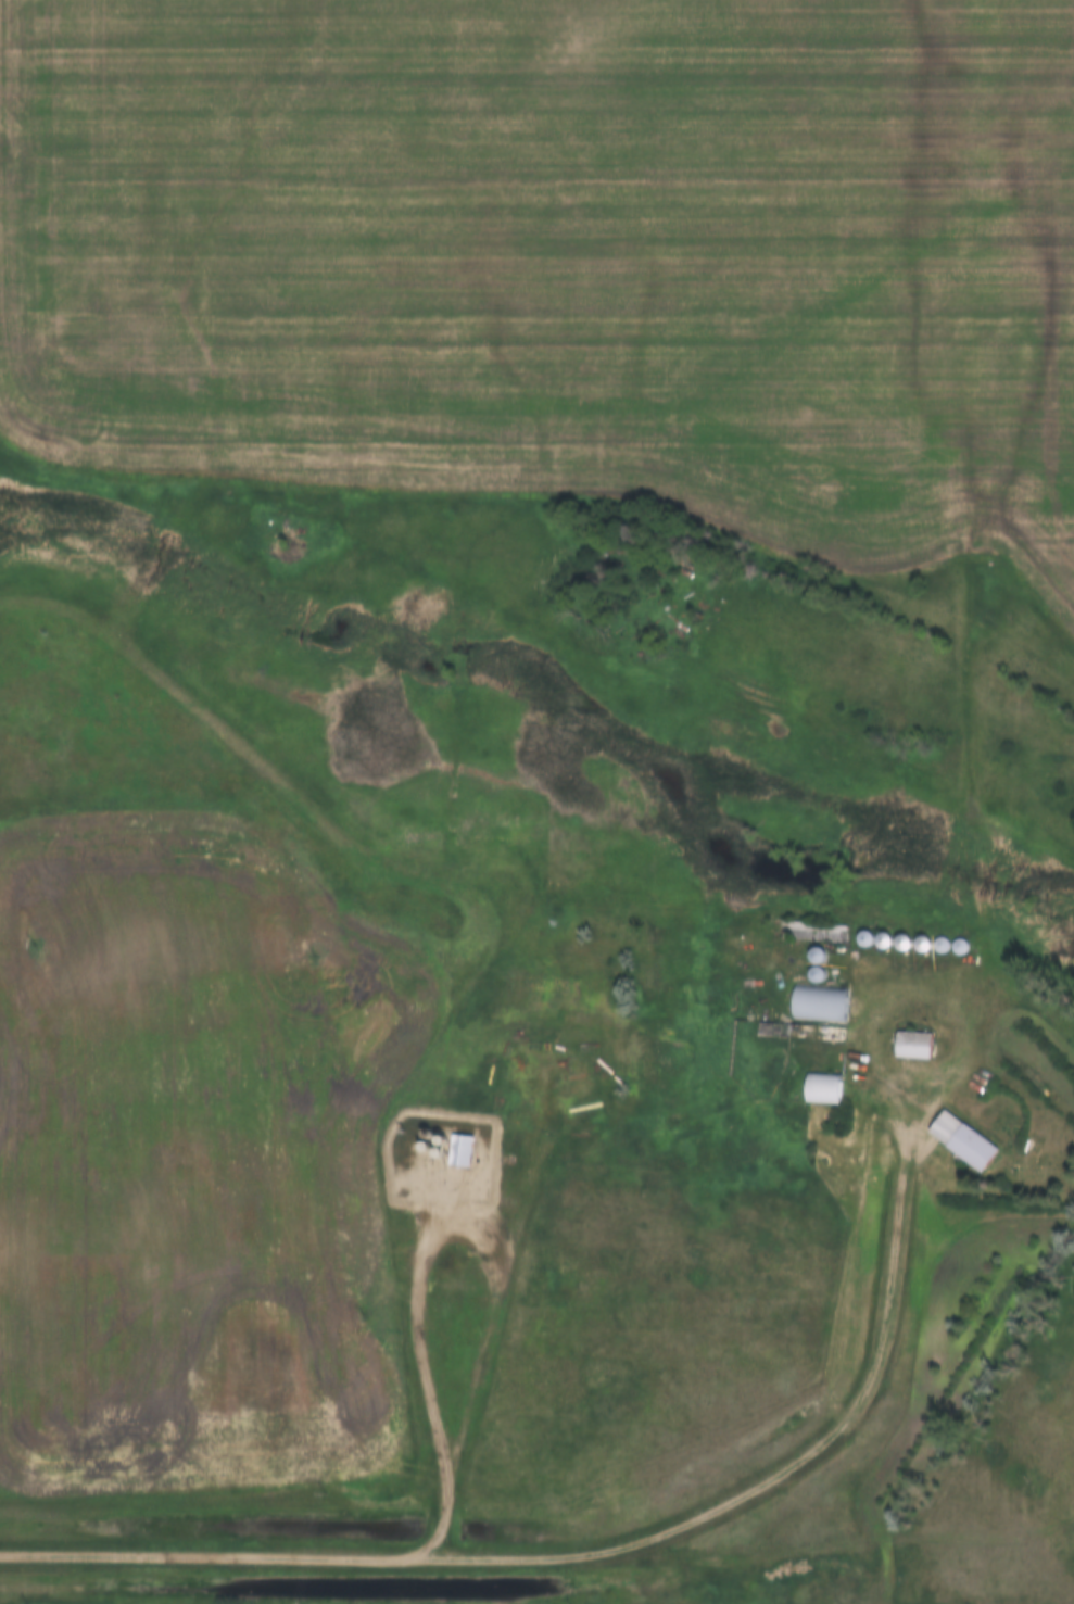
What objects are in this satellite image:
building: (847, 927)
silo: (847, 927)
building: (865, 930)
silo: (865, 930)
building: (811, 931)
building: (885, 932)
silo: (885, 932)
building: (924, 932)
silo: (924, 932)
building: (905, 933)
silo: (905, 933)
building: (943, 934)
silo: (943, 934)
building: (798, 944)
silo: (798, 944)
building: (820, 955)
building: (798, 962)
silo: (798, 962)
building: (819, 975)
building: (803, 990)
building: (823, 1005)
building: (812, 1023)
building: (775, 1030)
building: (896, 1033)
building: (919, 1045)
building: (807, 1075)
building: (826, 1089)
storage tank: (412, 1121)
storage tank: (425, 1127)
building: (945, 1129)
storage tank: (409, 1134)
building: (443, 1139)
storage tank: (422, 1140)
building: (457, 1149)
road: (502, 1239)
road: (620, 1543)

